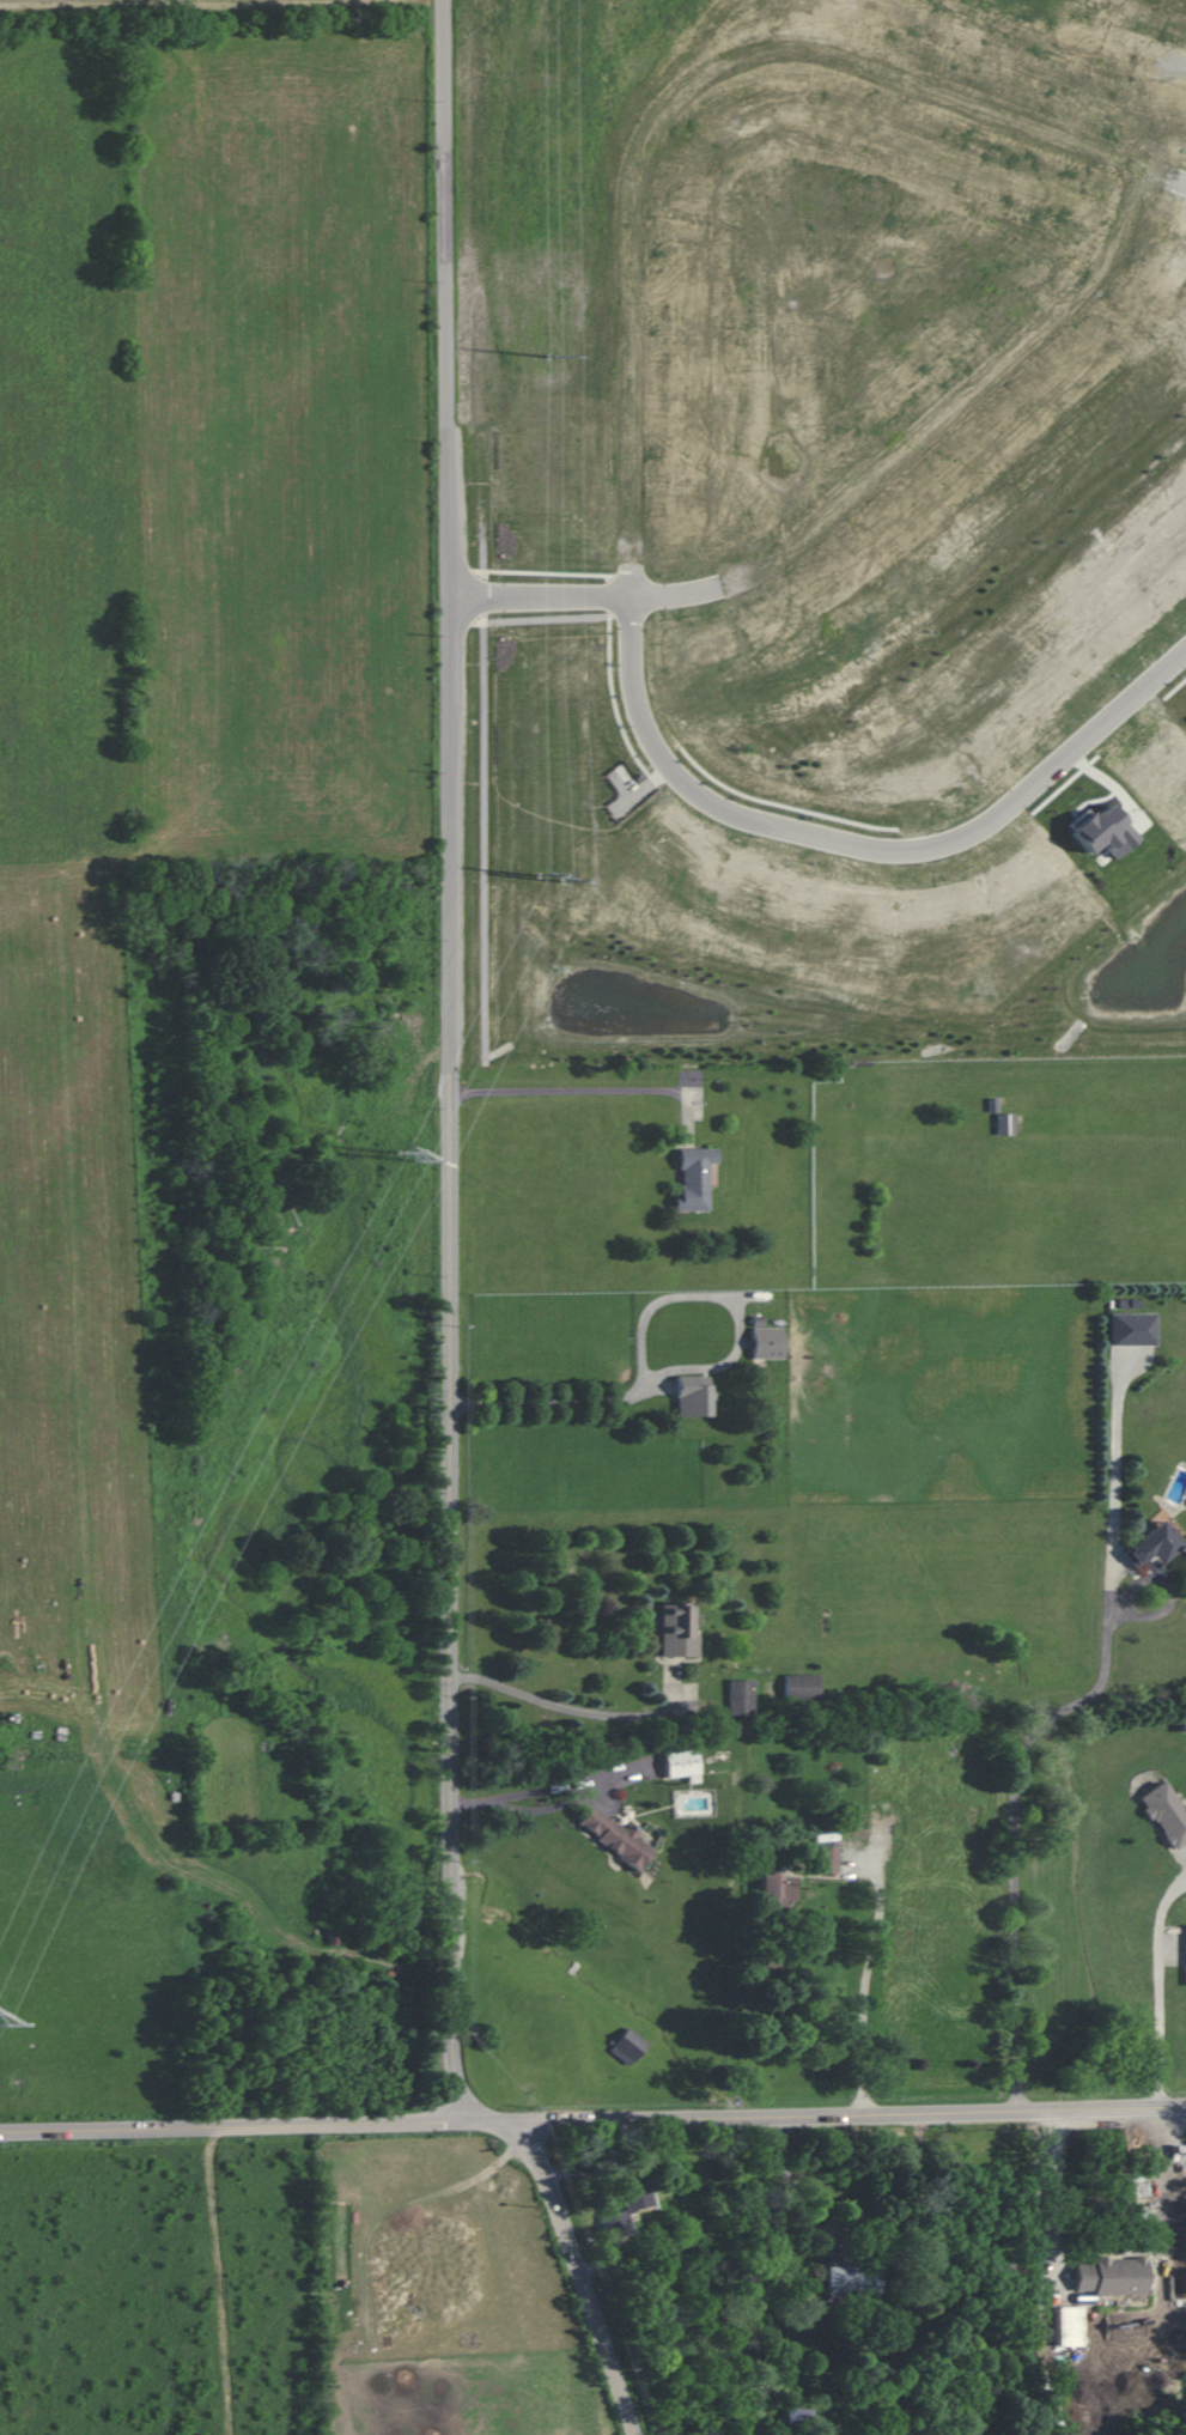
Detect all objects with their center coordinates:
road: (671, 98)
road: (1164, 176)
power tower: (549, 357)
road: (857, 493)
road: (485, 532)
road: (631, 688)
building: (1100, 830)
road: (953, 837)
power tower: (552, 875)
road: (450, 1064)
road: (562, 1088)
building: (1004, 1123)
power tower: (409, 1158)
building: (694, 1178)
building: (1131, 1329)
building: (767, 1342)
road: (637, 1391)
building: (693, 1395)
building: (1152, 1544)
building: (677, 1629)
building: (801, 1686)
building: (741, 1696)
road: (572, 1708)
road: (1053, 1720)
building: (680, 1762)
road: (546, 1786)
building: (1166, 1812)
building: (882, 1816)
building: (613, 1835)
building: (827, 1858)
building: (772, 1889)
building: (1185, 1932)
road: (869, 1967)
road: (1161, 1987)
building: (628, 2045)
road: (592, 2115)
road: (789, 2184)
road: (1056, 2186)
building: (625, 2210)
road: (576, 2265)
building: (1109, 2276)
building: (850, 2279)
building: (1066, 2326)

